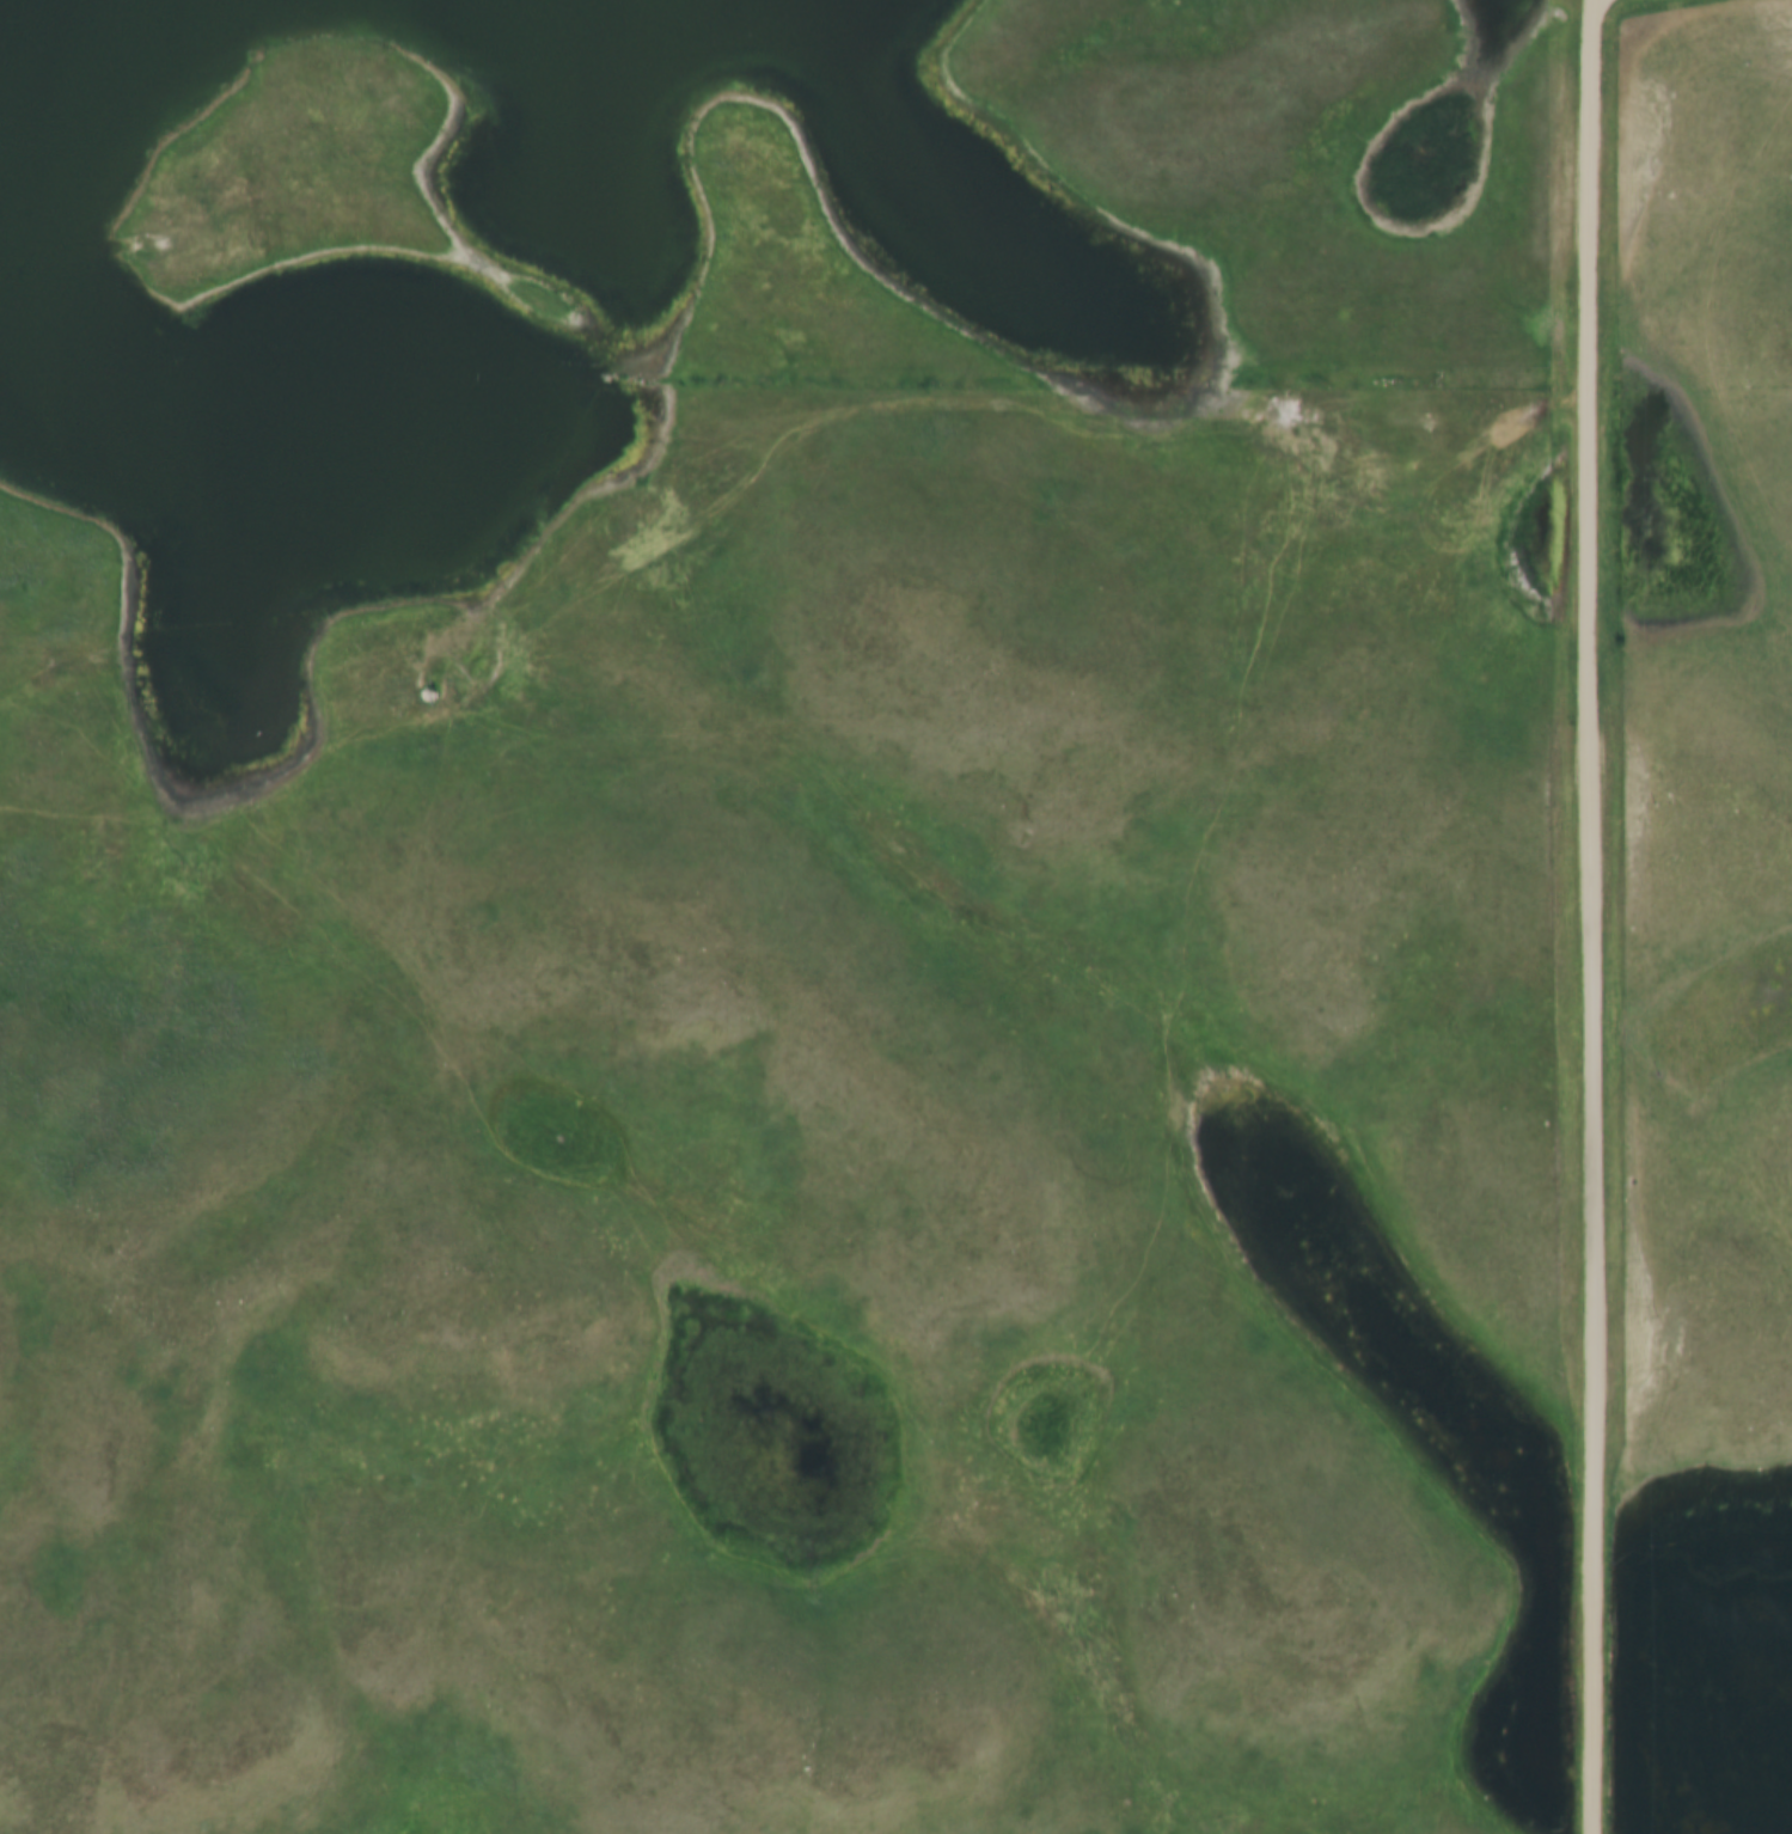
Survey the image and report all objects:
road: (1588, 916)

